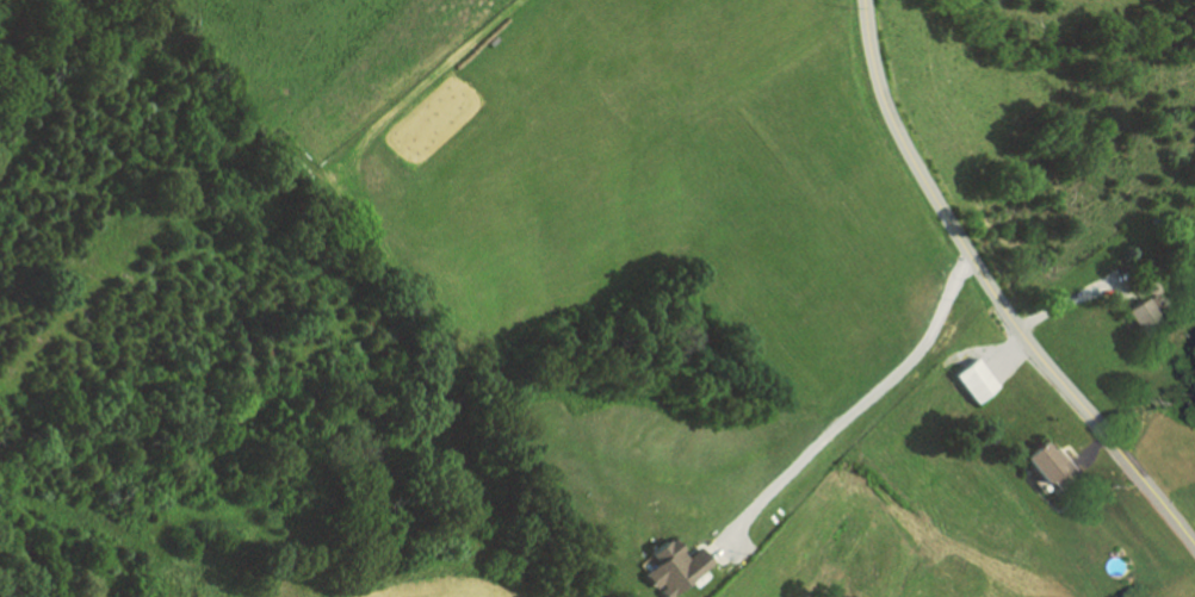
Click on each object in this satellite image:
road: (436, 73)
road: (993, 288)
road: (1079, 294)
building: (1147, 315)
road: (1011, 353)
building: (977, 380)
road: (852, 416)
road: (1092, 448)
building: (1051, 462)
building: (675, 568)
crop: (438, 590)

